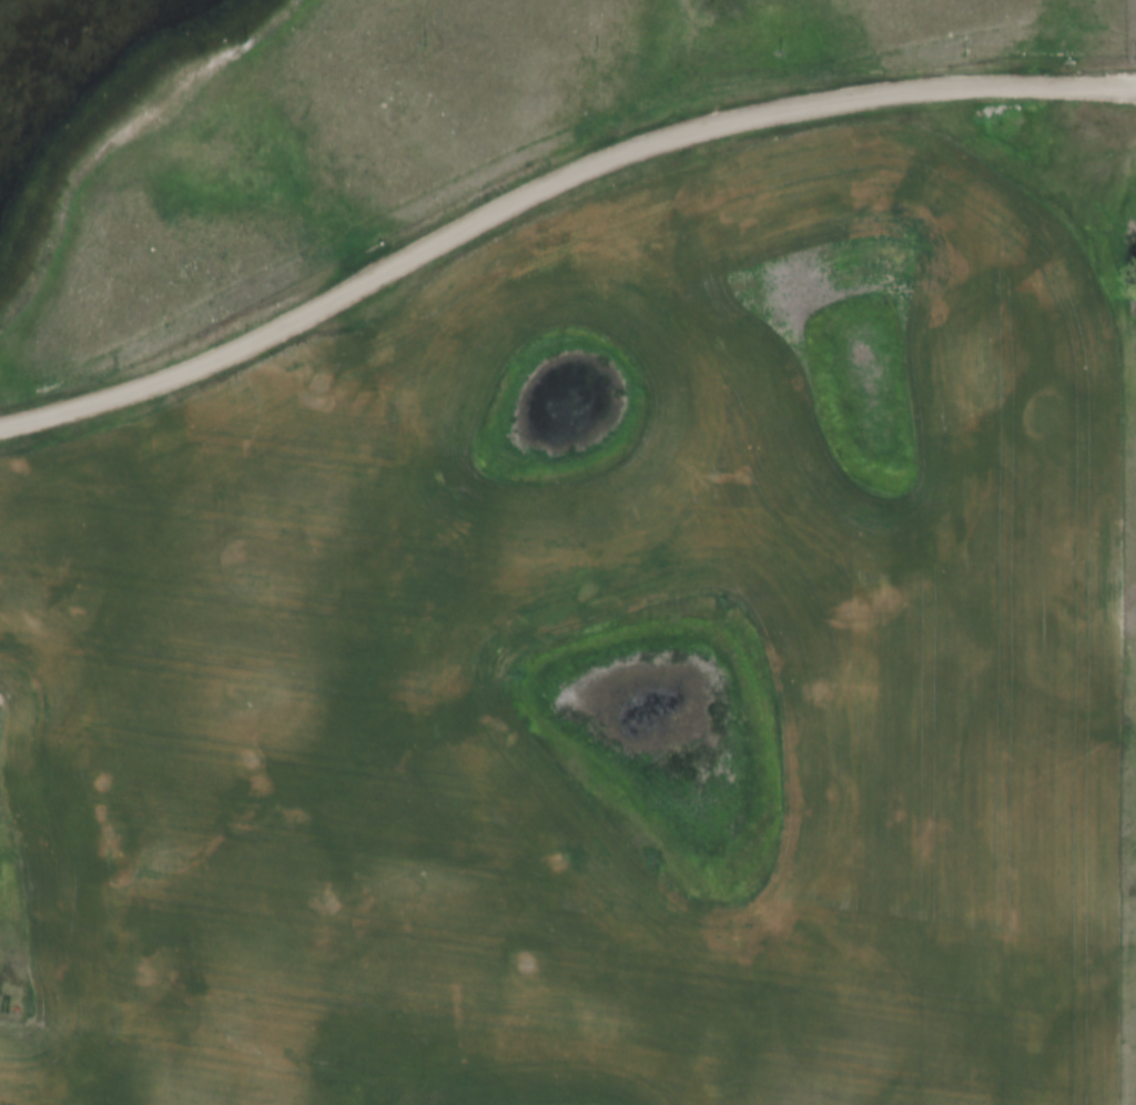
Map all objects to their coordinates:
road: (549, 186)

